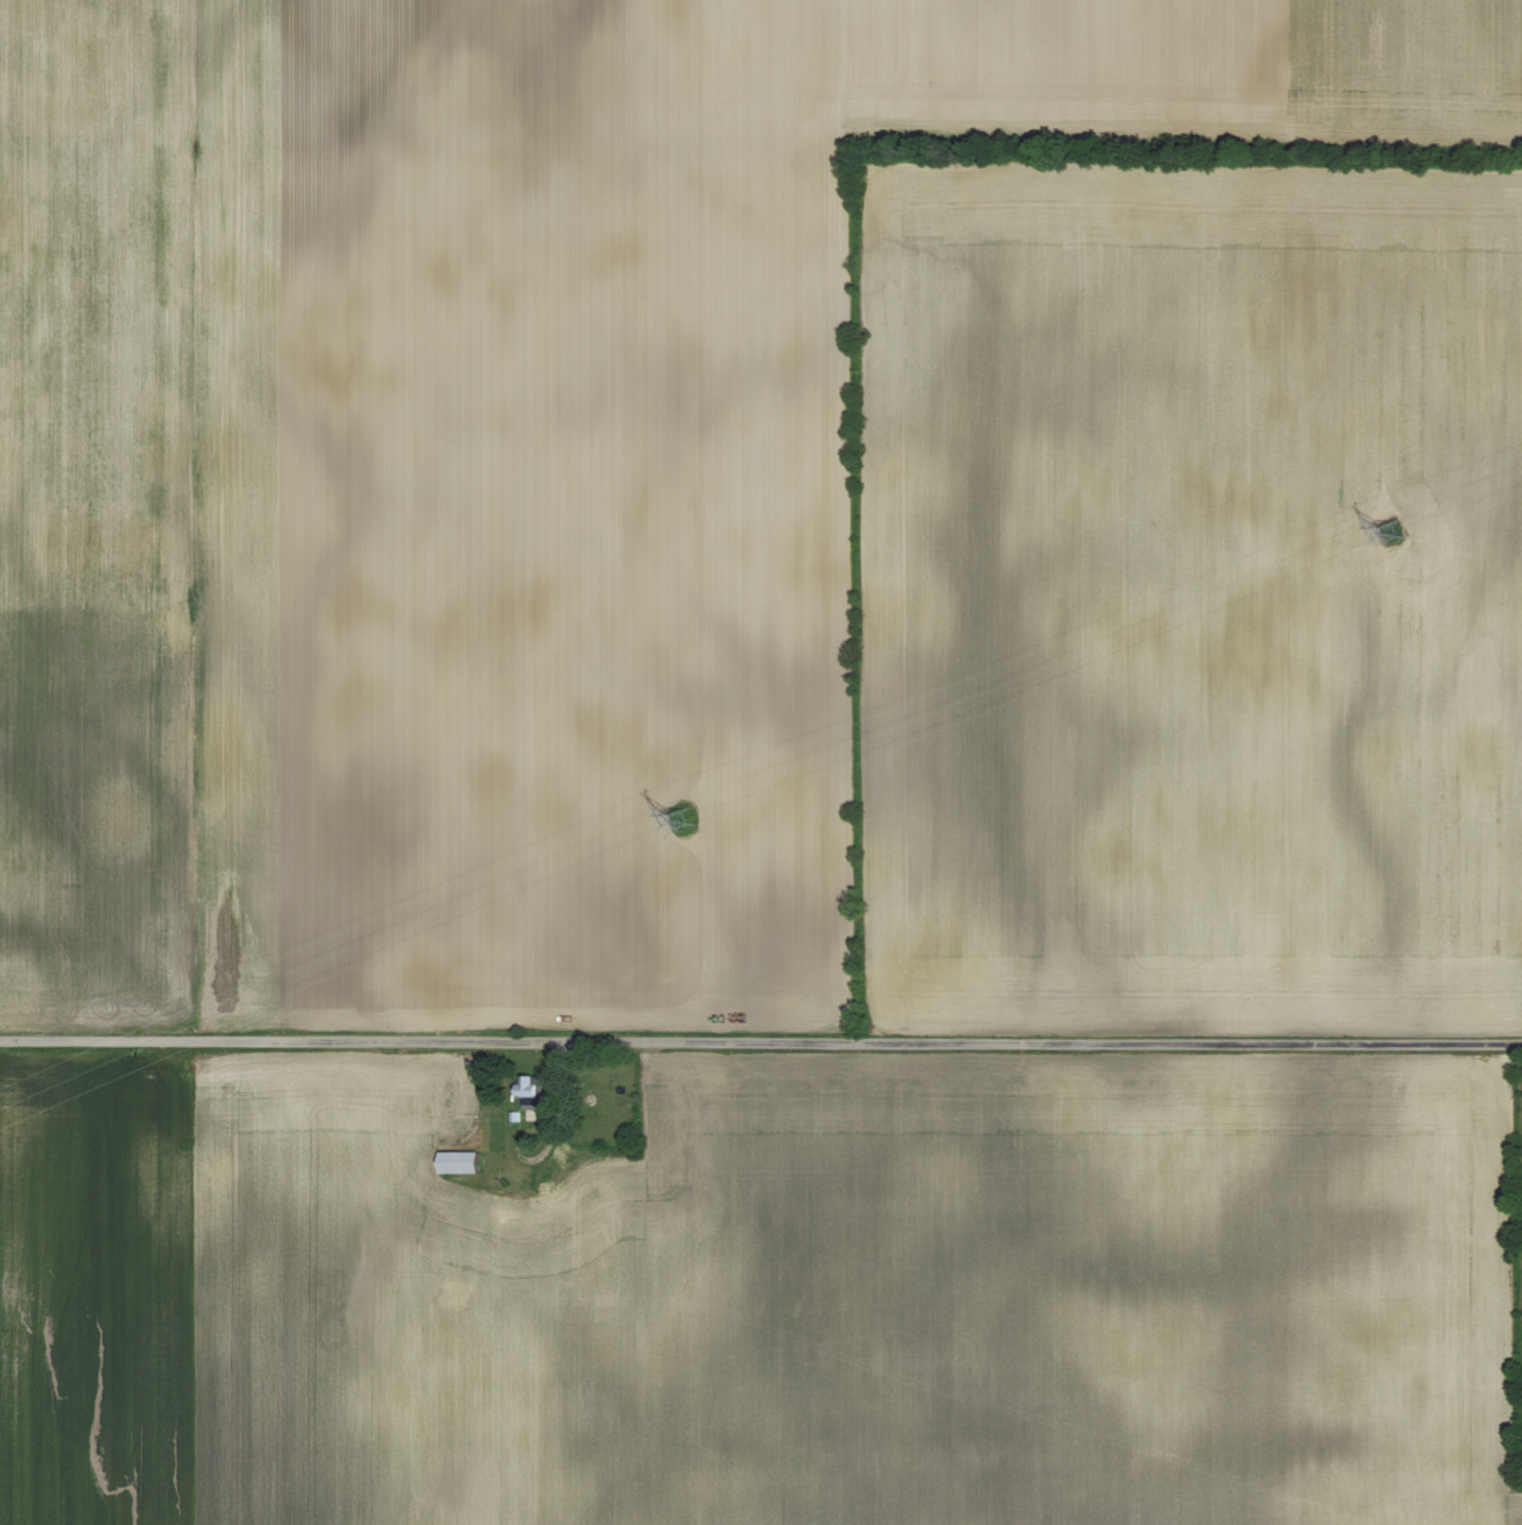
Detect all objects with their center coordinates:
power tower: (1389, 532)
power tower: (679, 819)
road: (760, 1043)
building: (529, 1094)
building: (457, 1163)
building: (535, 1192)

